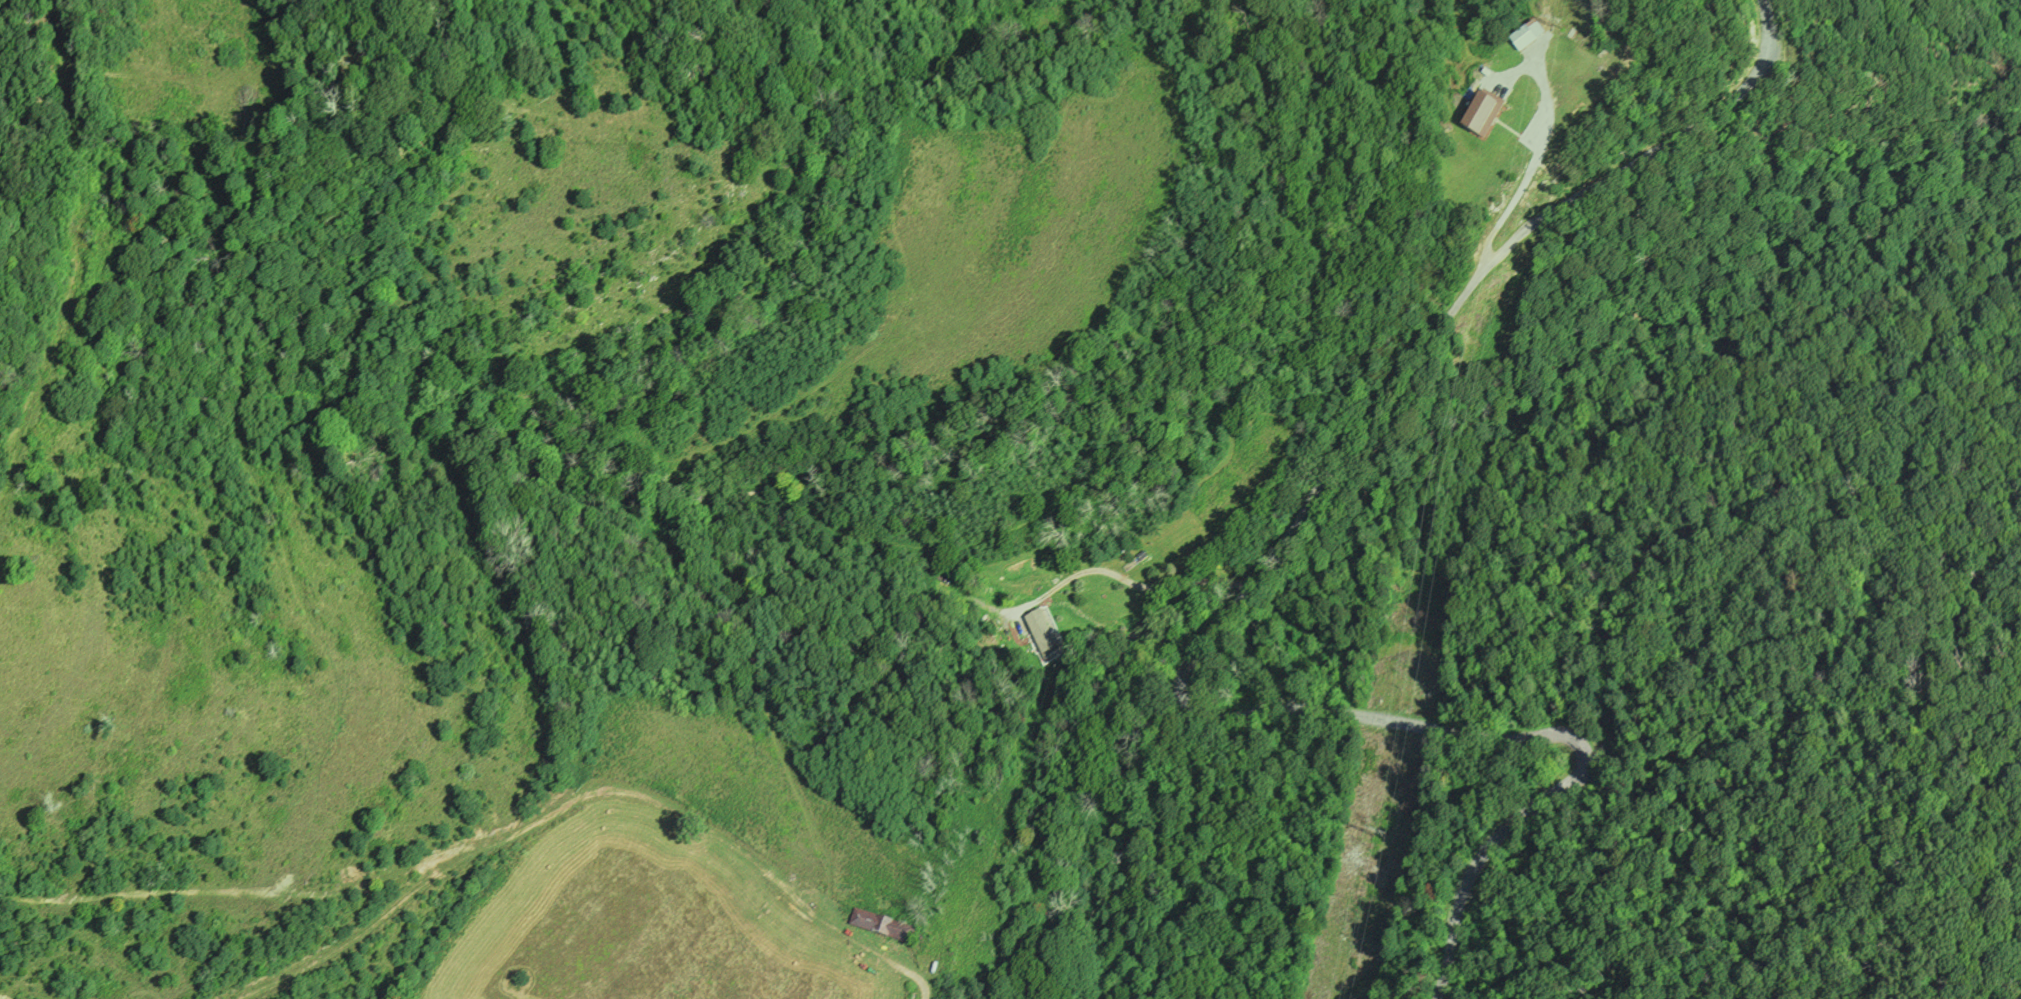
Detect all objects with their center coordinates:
power tower: (1557, 28)
building: (1522, 41)
building: (1482, 114)
road: (1529, 169)
road: (1368, 422)
road: (1131, 581)
building: (1031, 637)
road: (576, 801)
road: (1539, 806)
power tower: (1380, 839)
building: (882, 928)

